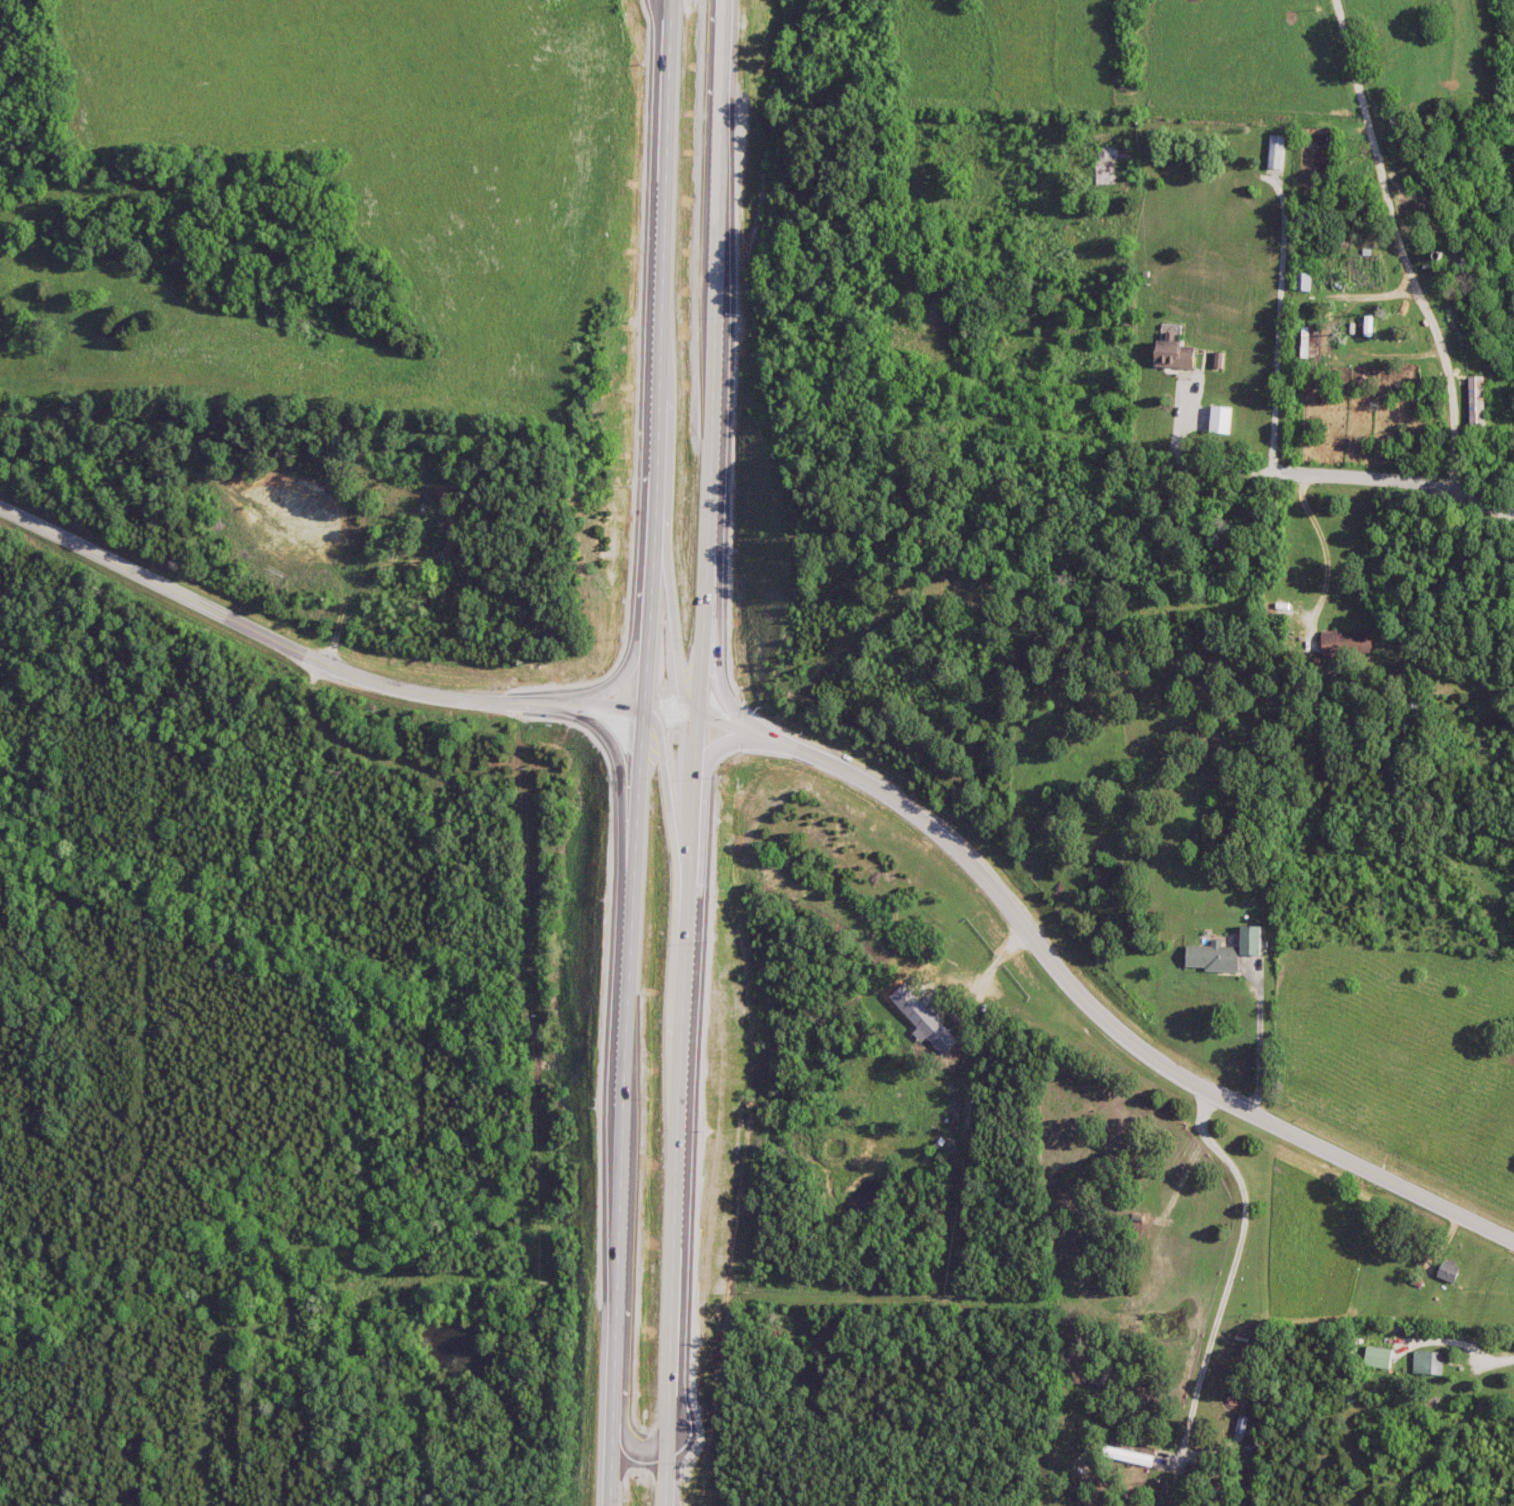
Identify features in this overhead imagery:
building: (1276, 153)
building: (1111, 166)
road: (1286, 222)
road: (1403, 242)
building: (1303, 282)
building: (1178, 355)
building: (1474, 402)
building: (1223, 420)
road: (1210, 468)
road: (1329, 557)
building: (974, 595)
road: (668, 610)
building: (1348, 643)
road: (309, 655)
road: (584, 702)
road: (756, 726)
road: (697, 752)
road: (641, 753)
road: (673, 832)
building: (1230, 952)
road: (1066, 980)
road: (424, 1008)
road: (1260, 1036)
building: (1453, 1271)
road: (1230, 1277)
road: (1460, 1345)
building: (1382, 1359)
building: (1431, 1363)

